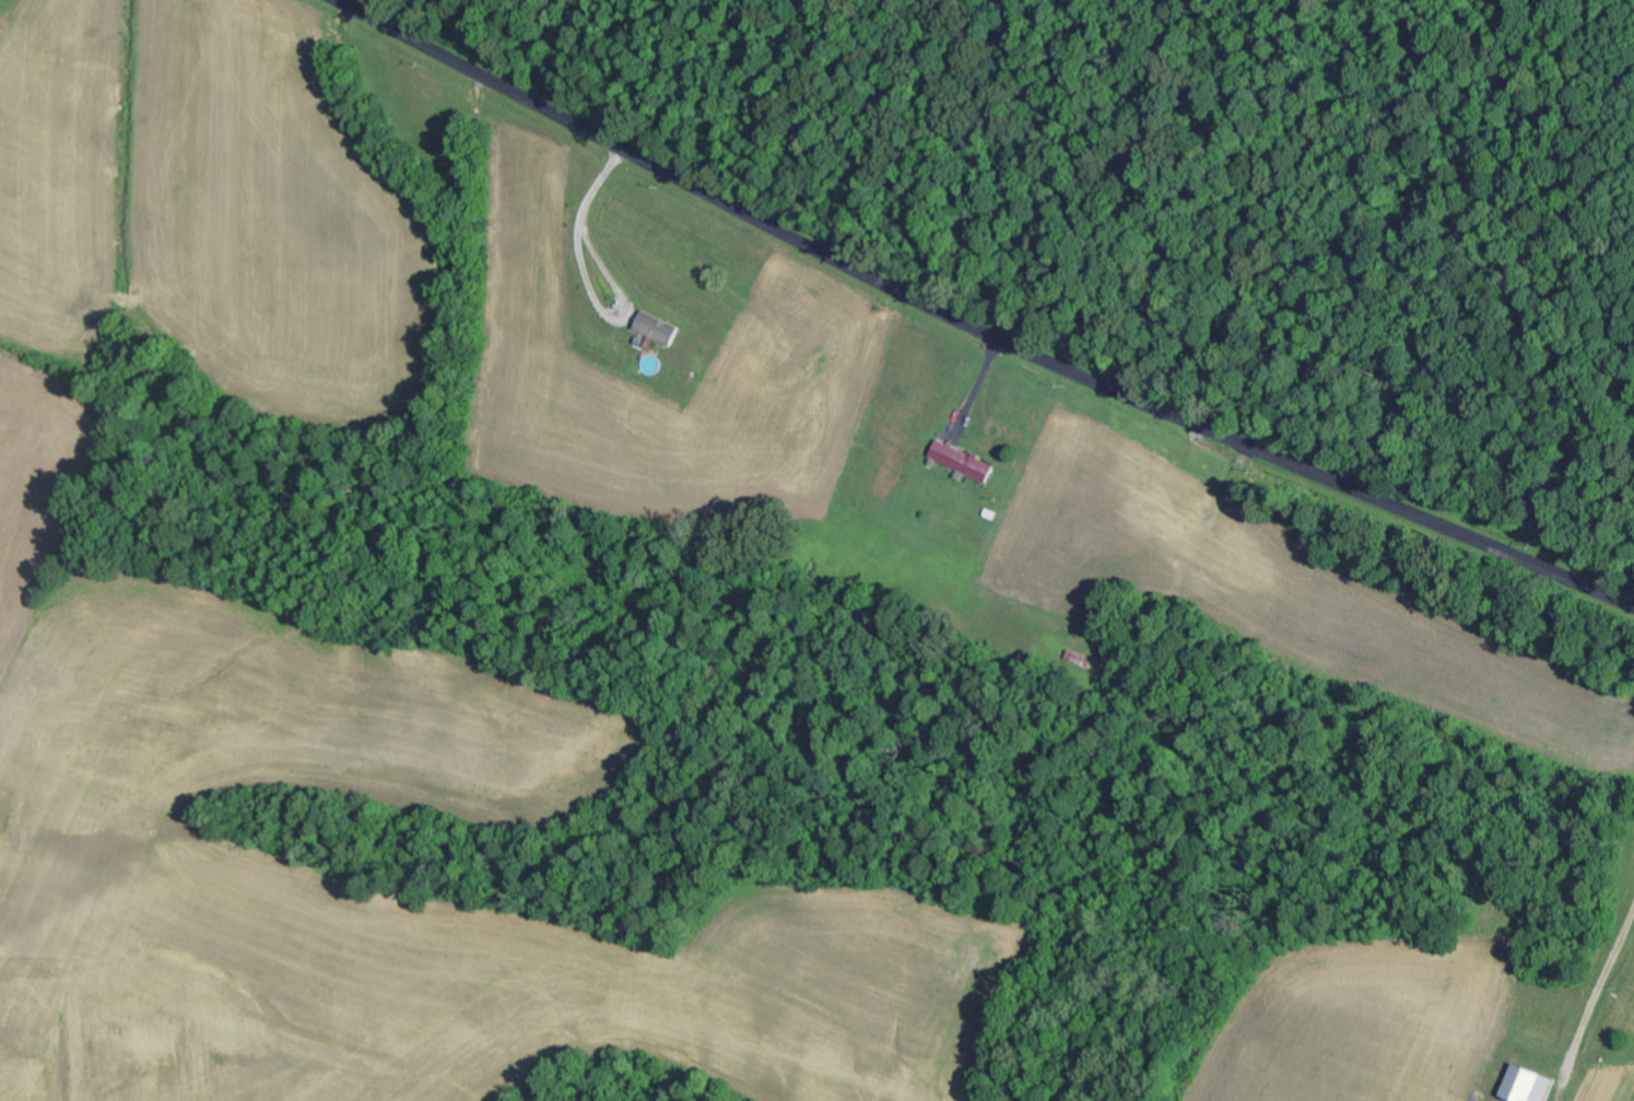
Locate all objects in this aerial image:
building: (659, 329)
road: (974, 329)
building: (963, 462)
building: (1528, 1086)

